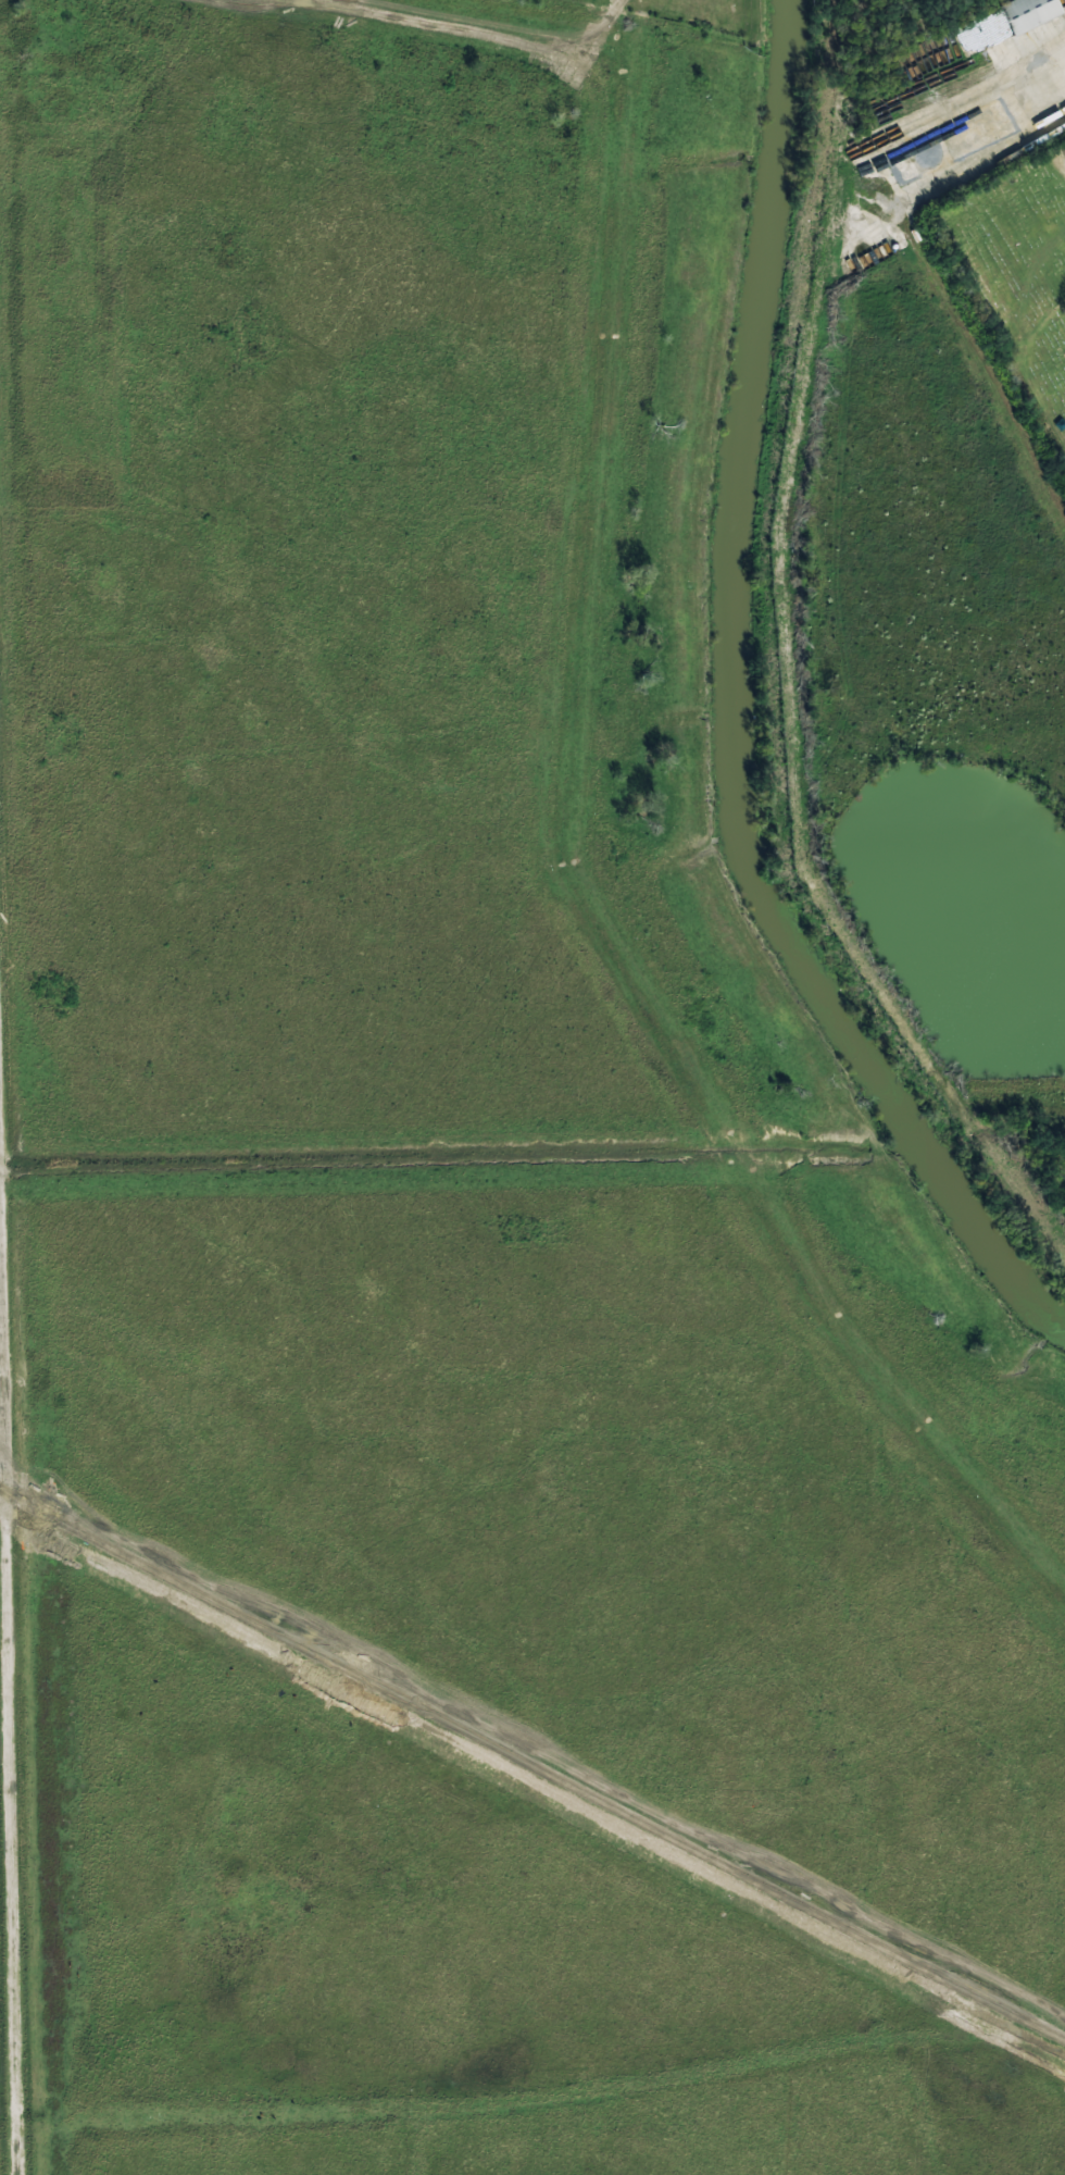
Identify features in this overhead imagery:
road: (1063, 109)

